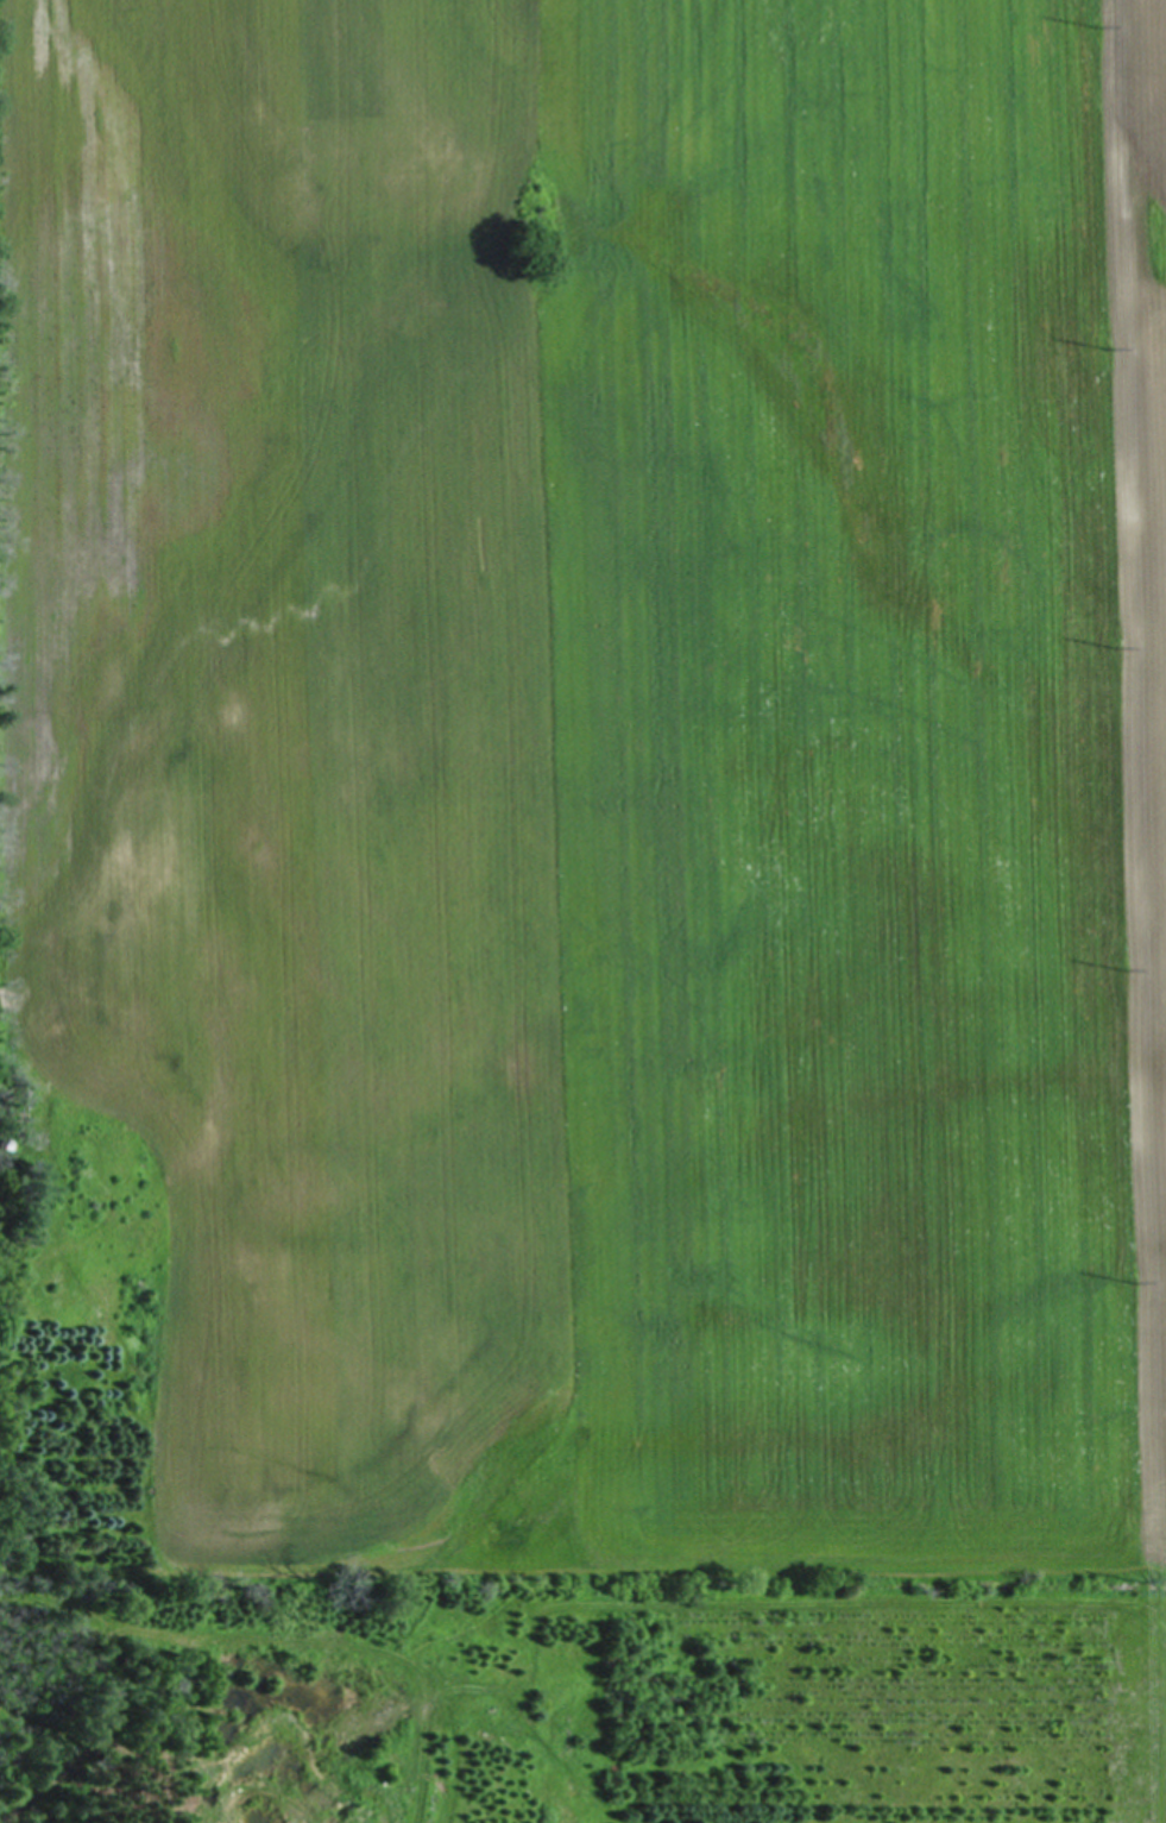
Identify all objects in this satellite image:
power tower: (1101, 25)
power tower: (1108, 348)
power tower: (1116, 642)
power tower: (1126, 969)
power tower: (1134, 1280)
power tower: (1141, 1583)

